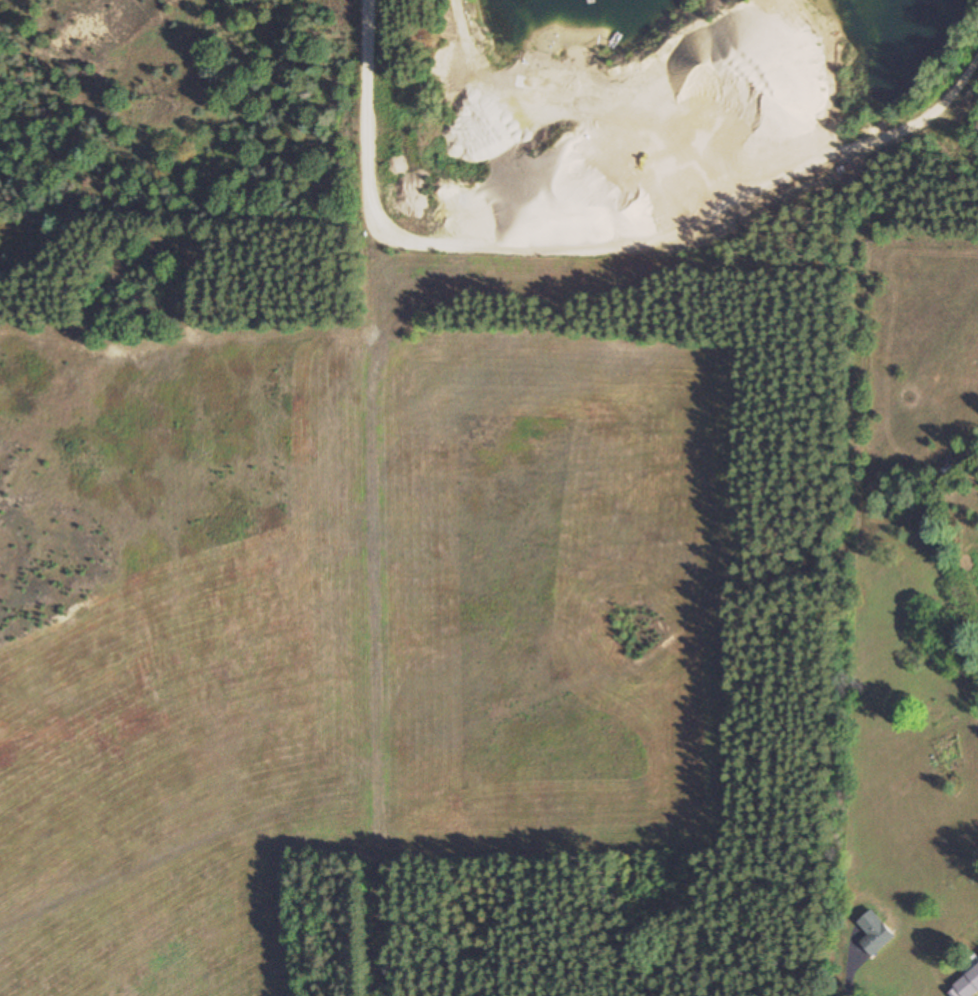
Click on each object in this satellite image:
road: (369, 498)
building: (874, 933)
building: (968, 983)

